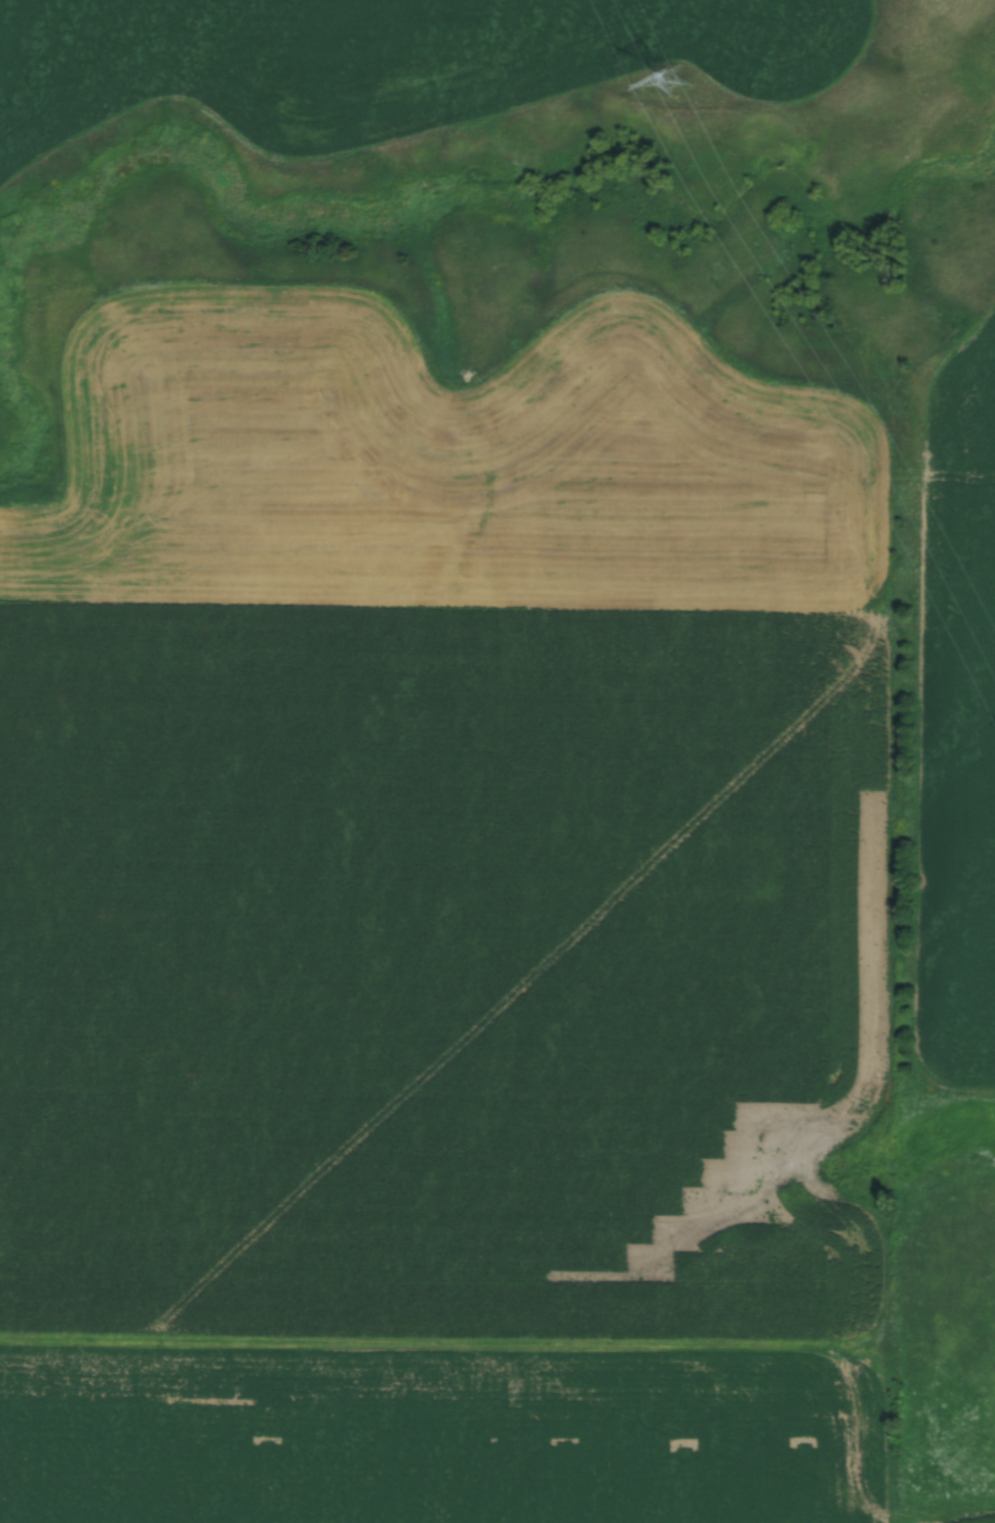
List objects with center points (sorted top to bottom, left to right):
power tower: (673, 79)

